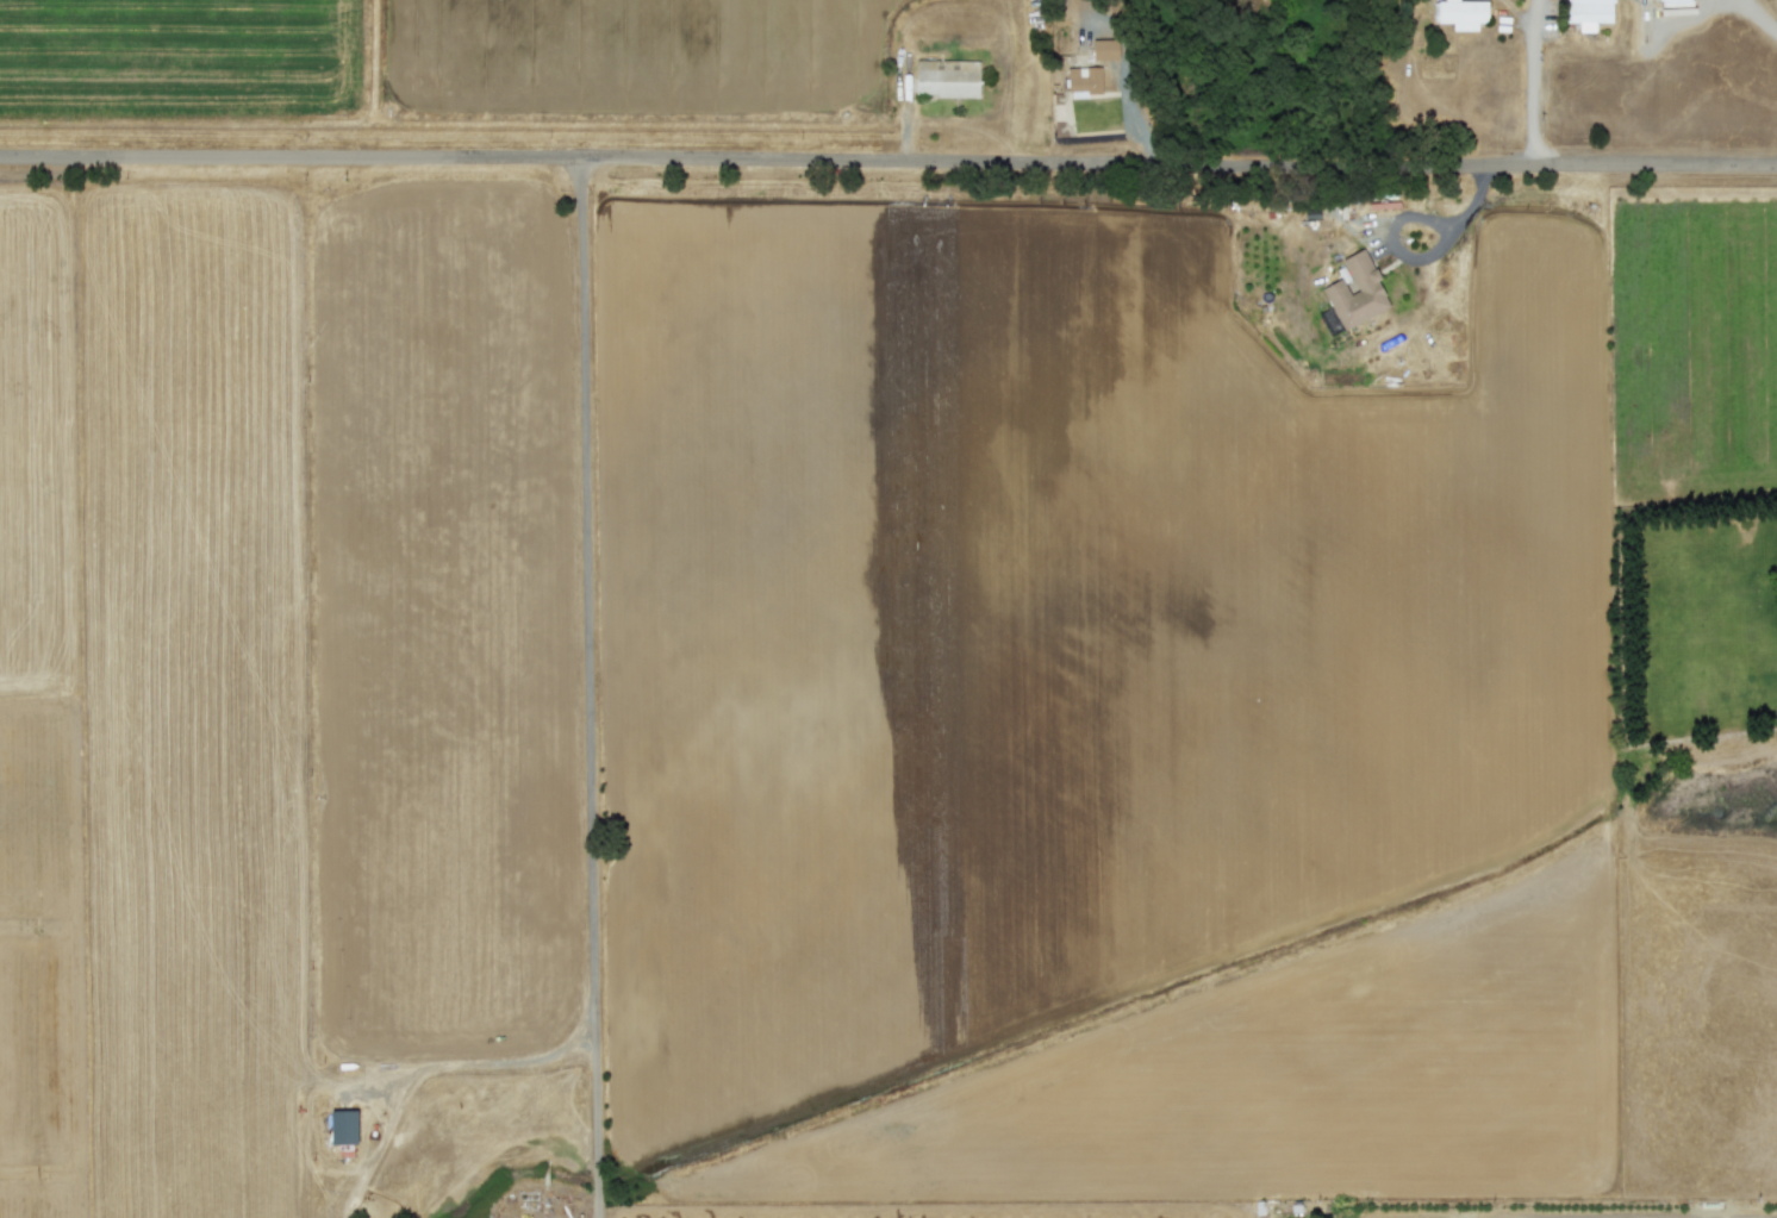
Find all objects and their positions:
building: (1673, 2)
building: (1589, 11)
building: (1460, 12)
road: (1756, 17)
building: (1105, 48)
building: (946, 76)
building: (1085, 79)
road: (1536, 79)
road: (888, 156)
road: (1422, 256)
building: (1357, 291)
crop: (336, 608)
road: (588, 687)
road: (506, 1062)
building: (343, 1125)

